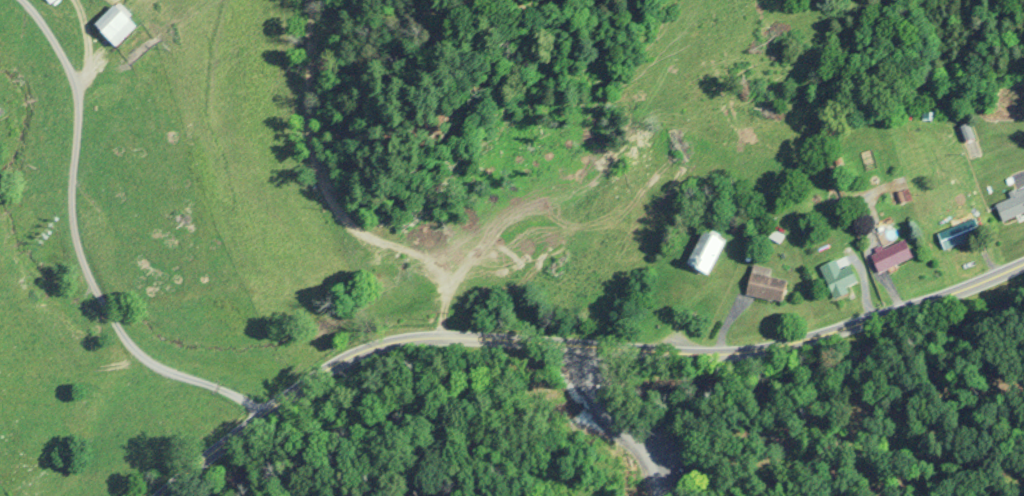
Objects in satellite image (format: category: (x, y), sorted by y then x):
building: (1012, 204)
building: (954, 236)
road: (72, 245)
building: (706, 252)
building: (891, 256)
building: (841, 279)
building: (765, 284)
road: (580, 347)

